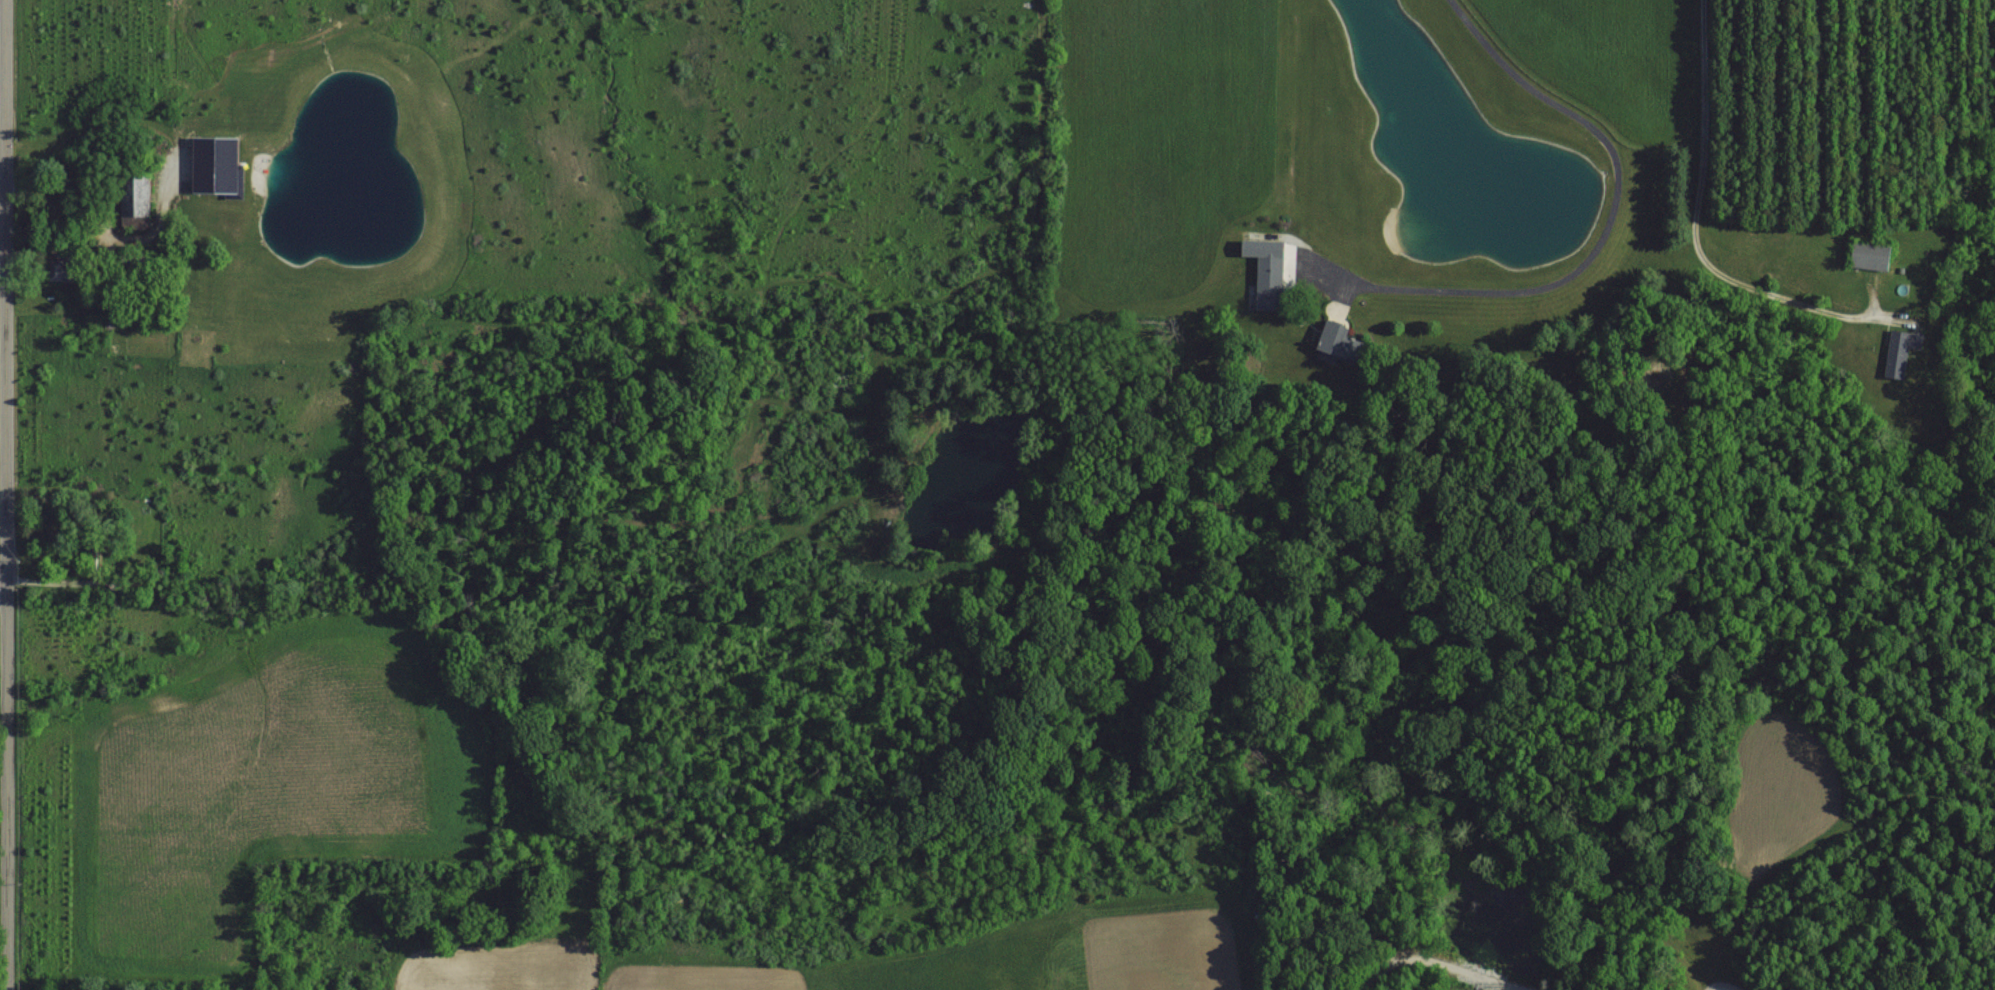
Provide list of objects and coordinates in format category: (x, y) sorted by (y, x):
road: (1695, 226)
road: (1599, 241)
building: (1867, 255)
building: (1267, 266)
building: (1900, 346)
road: (6, 495)
road: (3, 584)

